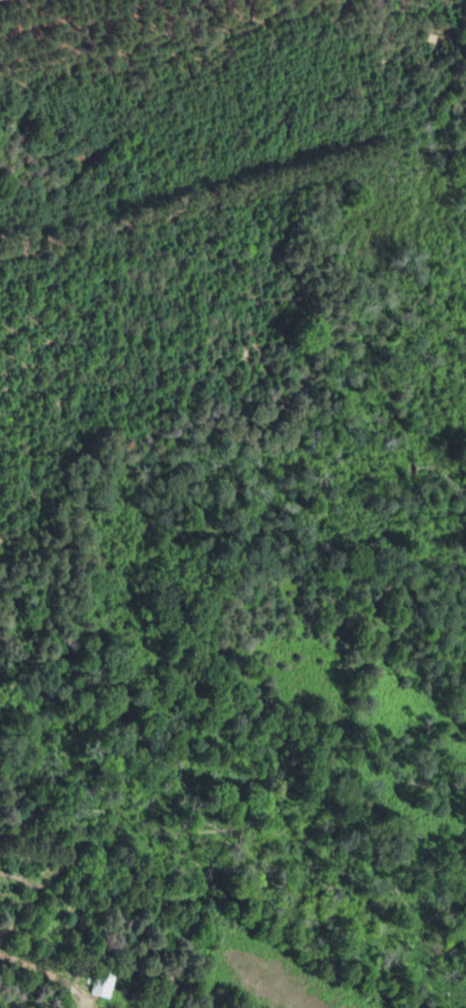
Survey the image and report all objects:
building: (101, 983)

